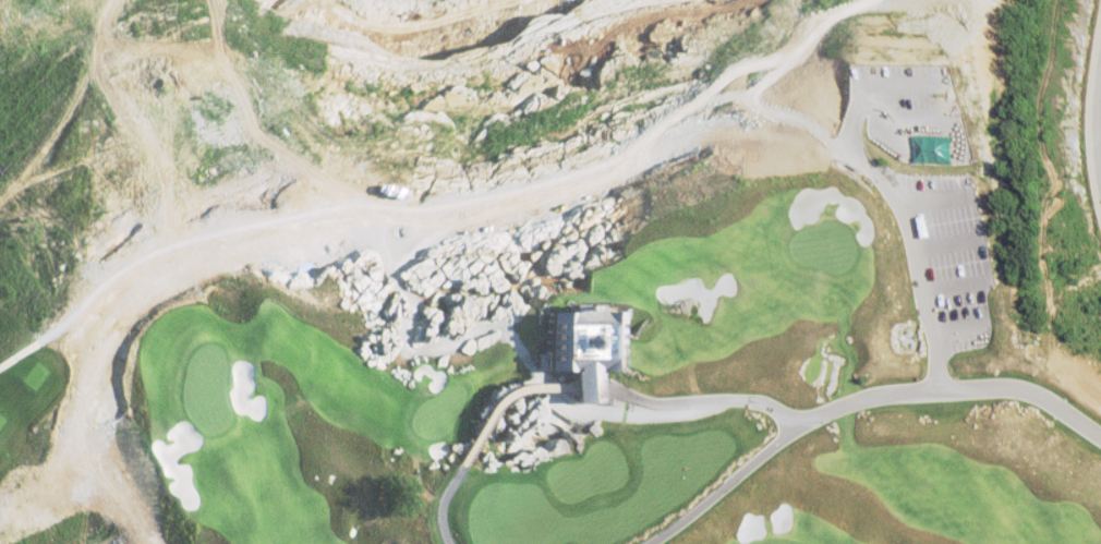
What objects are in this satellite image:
road: (751, 63)
road: (955, 86)
road: (1096, 124)
building: (942, 148)
road: (561, 184)
road: (934, 200)
road: (947, 246)
road: (912, 249)
road: (137, 254)
park: (534, 265)
road: (956, 290)
road: (959, 329)
building: (591, 339)
road: (50, 340)
road: (579, 388)
road: (872, 397)
road: (734, 485)

